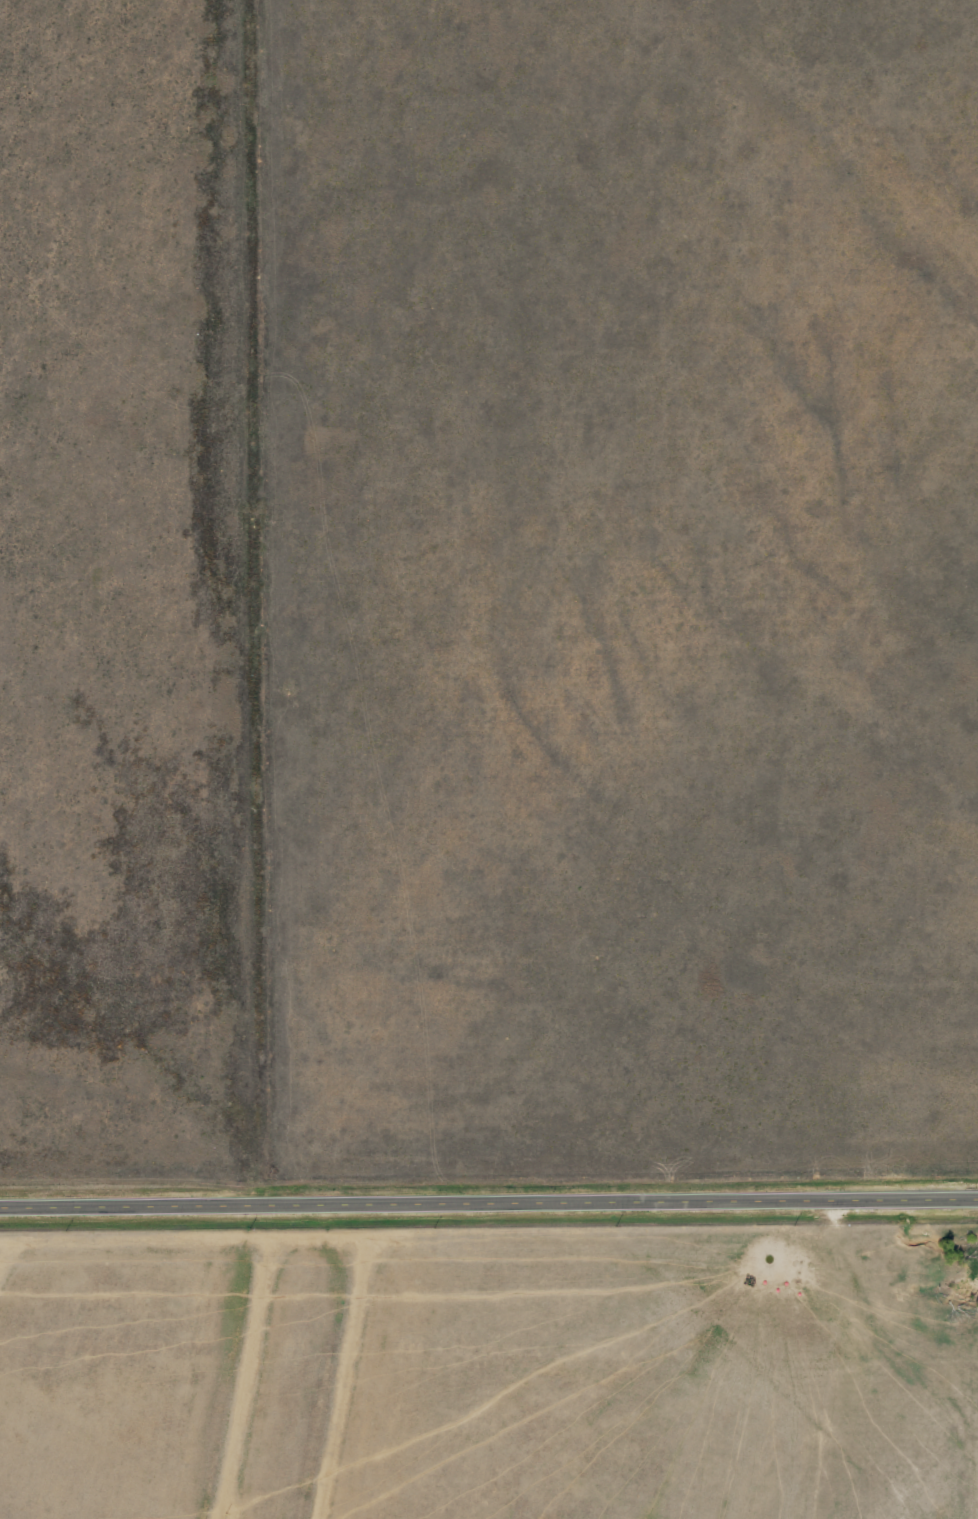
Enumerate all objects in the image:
road: (489, 1210)

